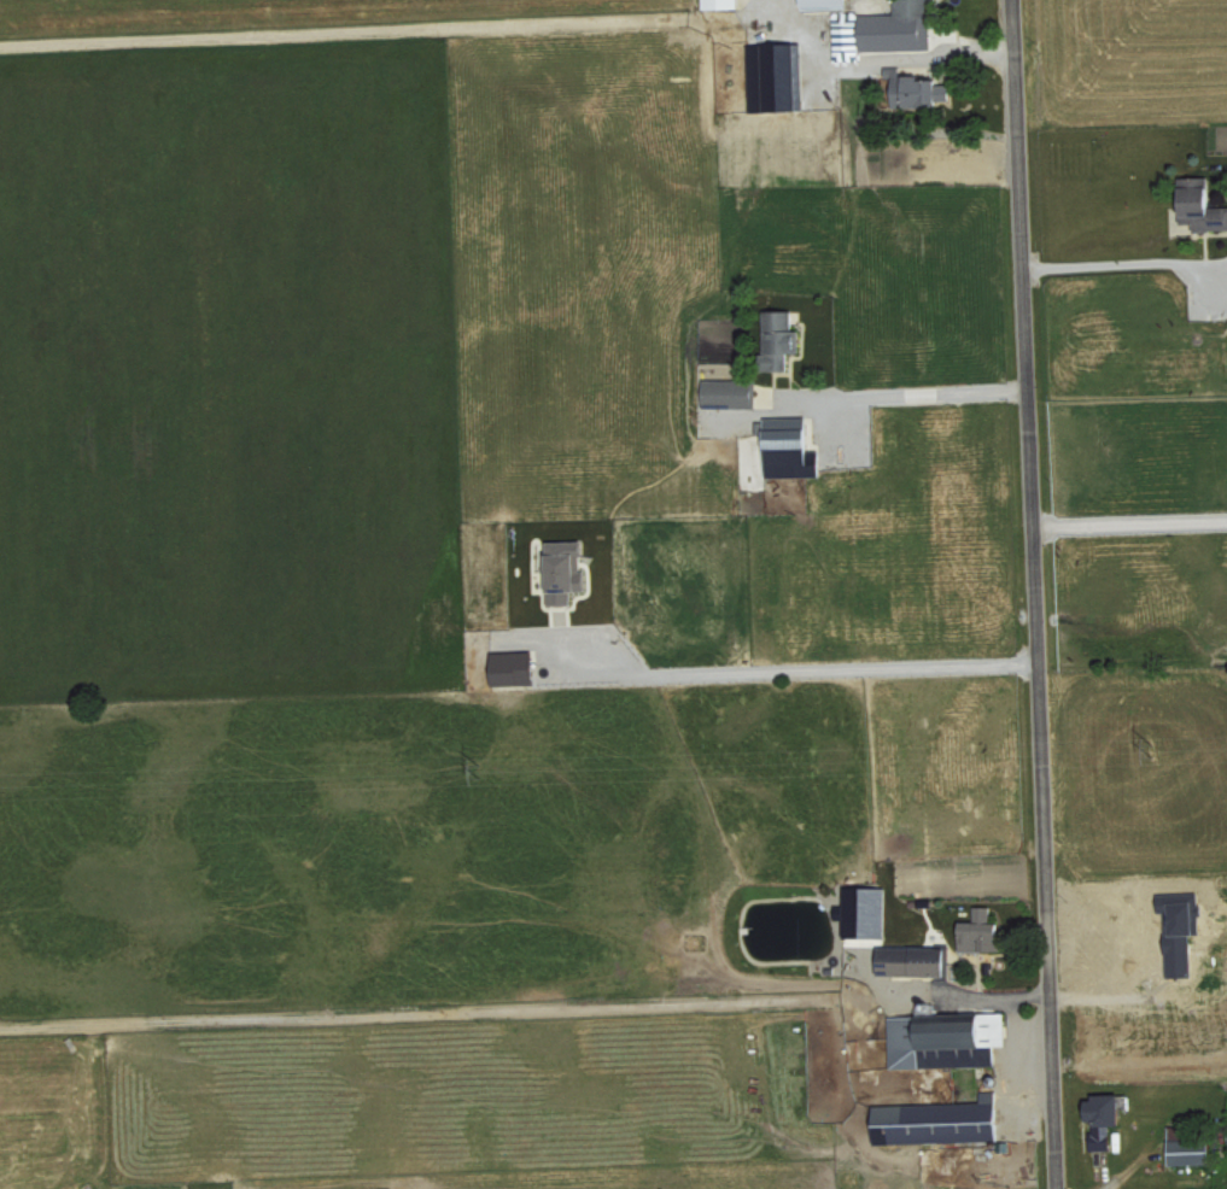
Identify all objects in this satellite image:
building: (721, 4)
building: (826, 4)
building: (899, 27)
building: (782, 55)
building: (922, 89)
building: (1202, 204)
road: (1114, 260)
building: (782, 336)
building: (731, 392)
road: (911, 392)
road: (1132, 520)
building: (567, 569)
road: (1040, 593)
road: (817, 667)
building: (515, 668)
power tower: (1155, 744)
power tower: (478, 767)
building: (865, 912)
building: (982, 932)
building: (916, 961)
road: (989, 995)
building: (945, 1038)
building: (1105, 1119)
building: (940, 1121)
building: (1190, 1147)

